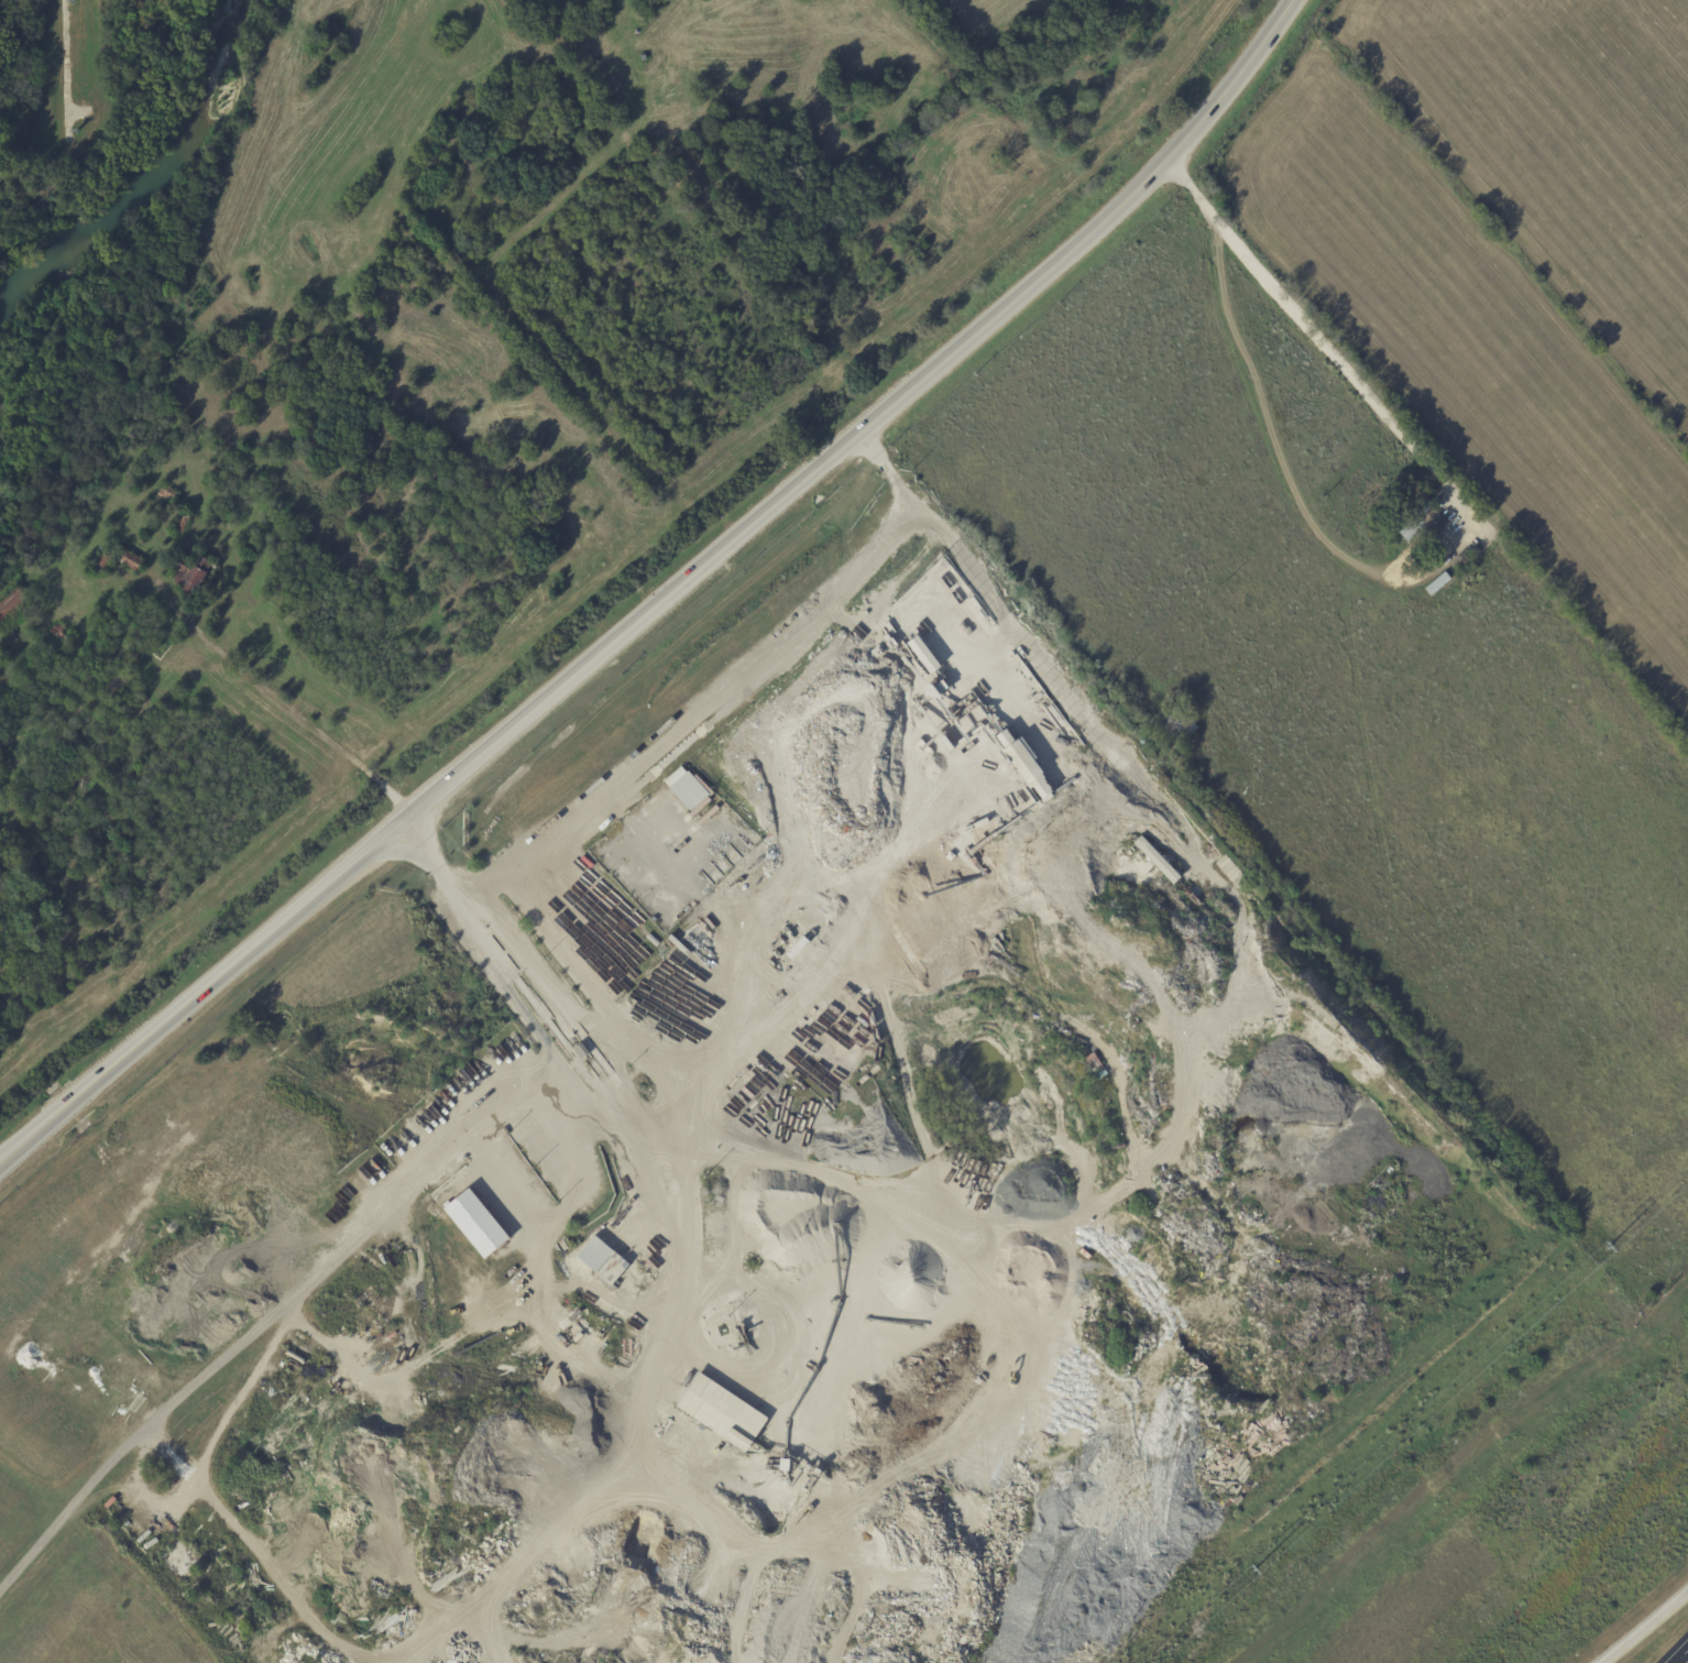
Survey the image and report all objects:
river: (142, 185)
airport: (429, 372)
building: (168, 494)
building: (1459, 507)
building: (184, 522)
building: (1417, 524)
road: (1444, 549)
building: (134, 562)
building: (1462, 564)
building: (103, 566)
building: (194, 572)
road: (658, 588)
building: (13, 606)
building: (66, 636)
building: (994, 646)
building: (922, 654)
road: (736, 682)
road: (275, 697)
building: (1173, 725)
building: (1024, 766)
building: (688, 789)
road: (515, 992)
building: (1092, 1064)
building: (303, 1074)
road: (622, 1075)
road: (656, 1153)
building: (475, 1223)
power tower: (1609, 1243)
building: (610, 1269)
road: (666, 1313)
road: (272, 1315)
building: (717, 1412)
power tower: (1254, 1565)
road: (1638, 1622)
road: (1673, 1648)

